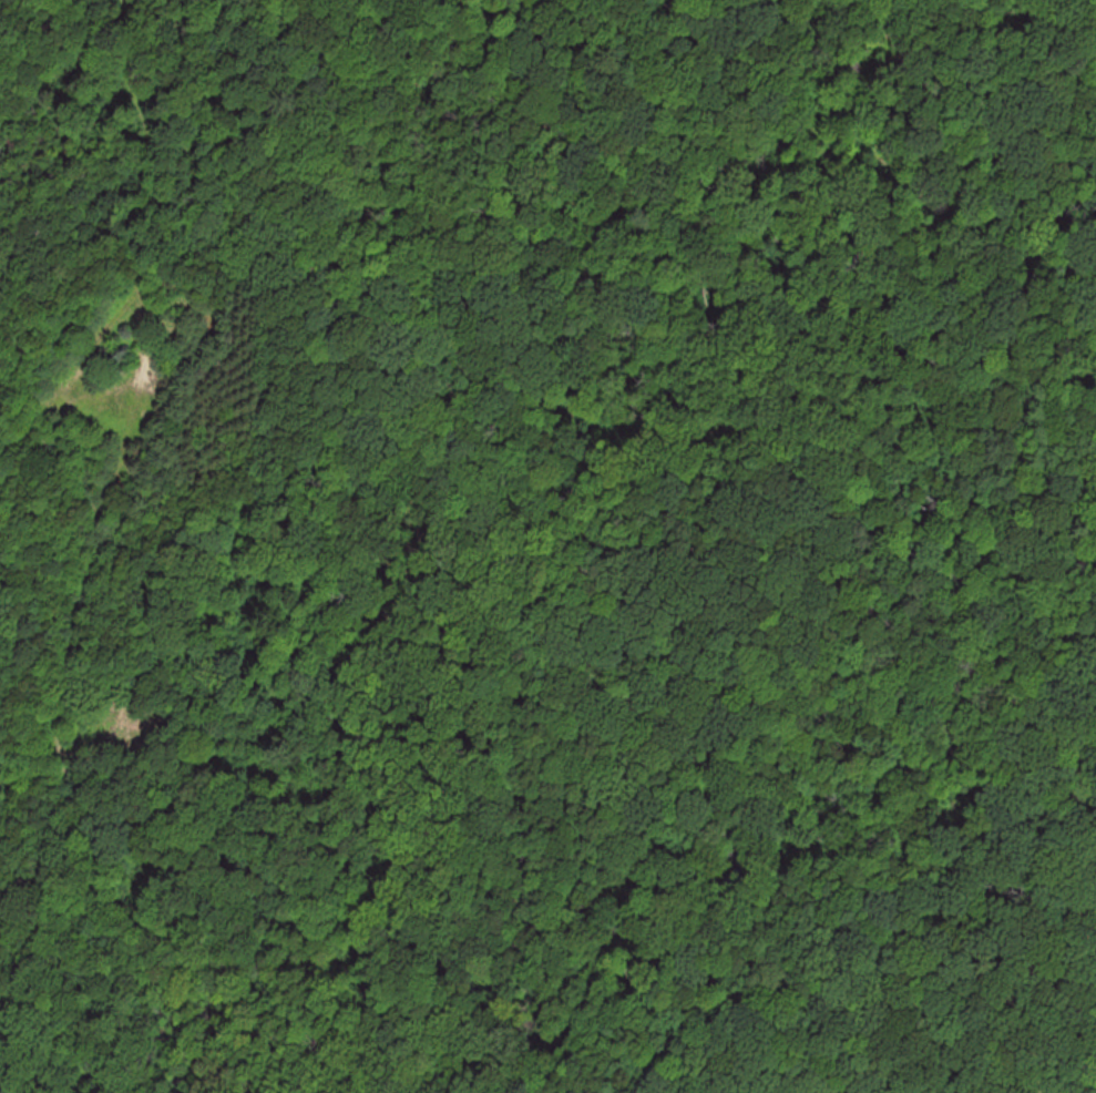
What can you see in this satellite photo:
park: (697, 542)

